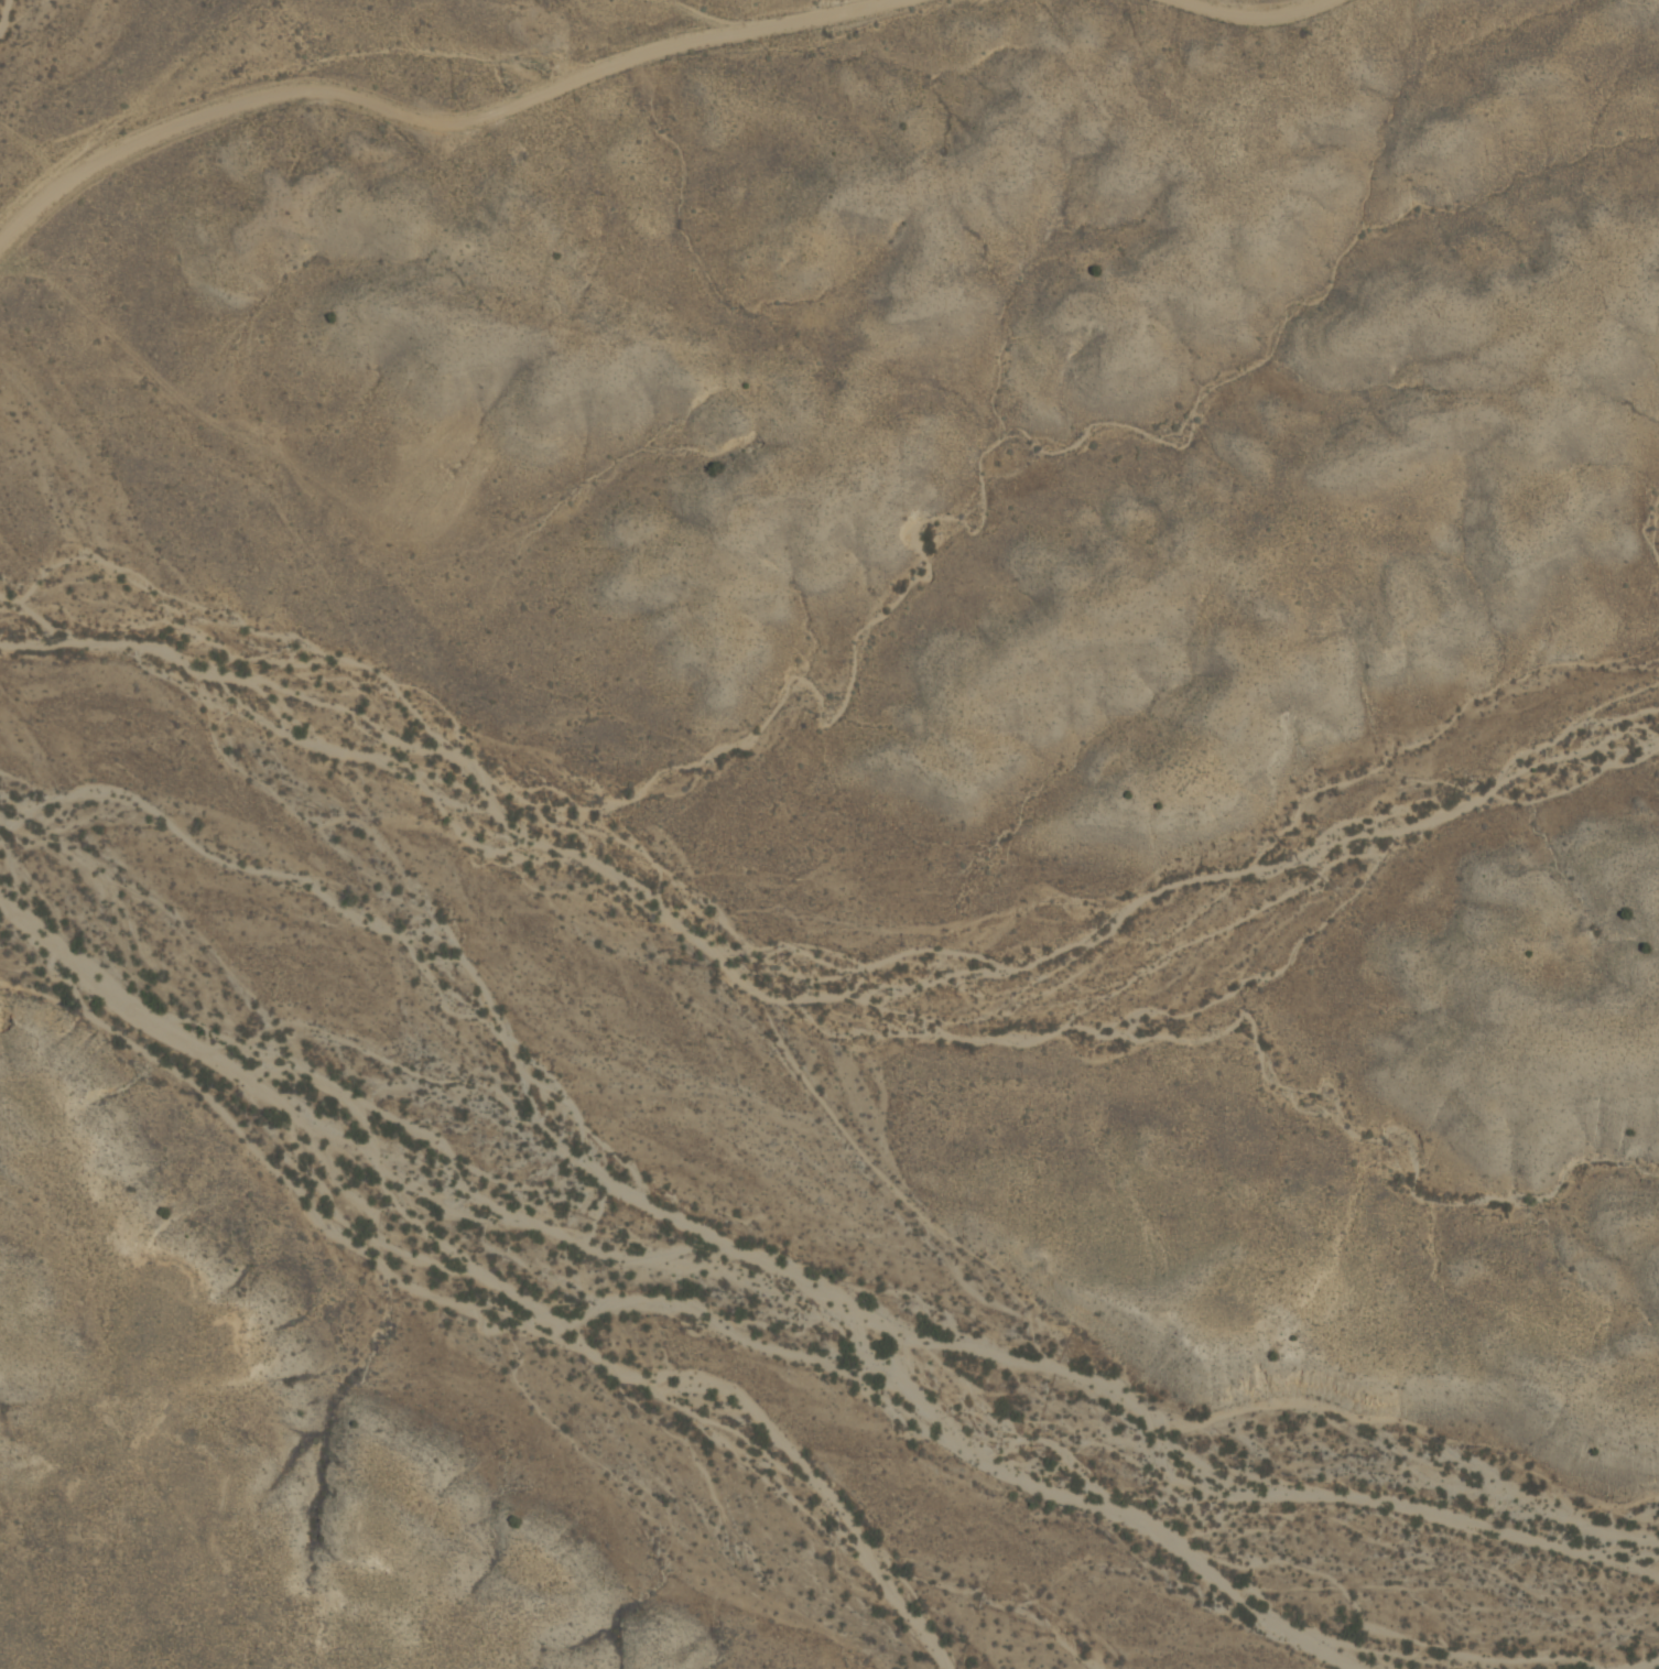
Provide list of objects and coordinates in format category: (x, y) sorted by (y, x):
road: (1249, 17)
road: (427, 117)

